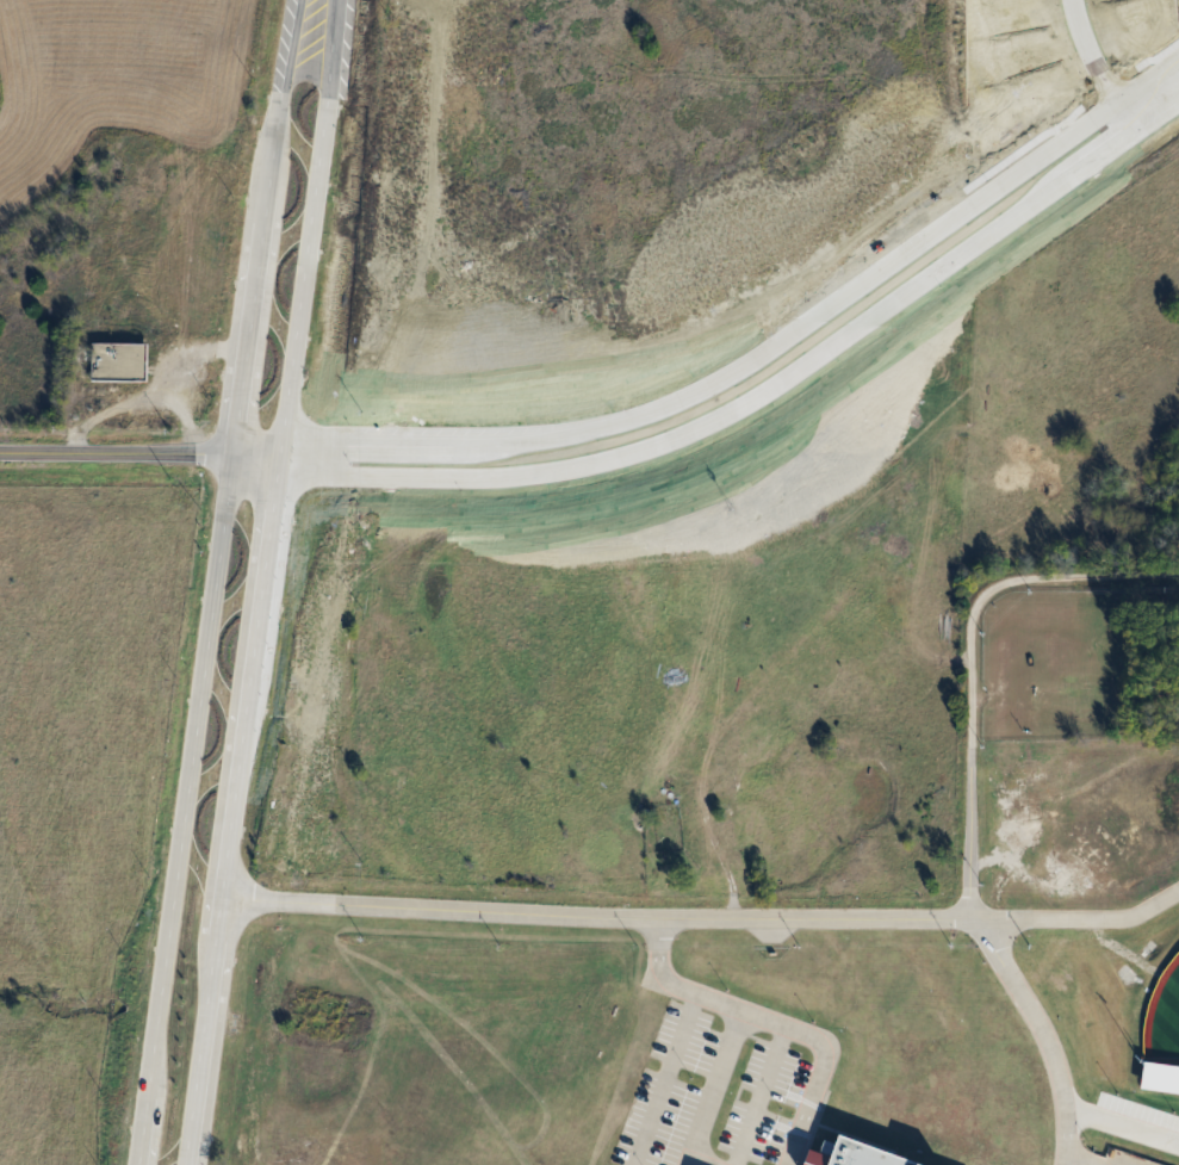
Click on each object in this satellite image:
road: (325, 48)
road: (284, 52)
road: (1091, 68)
road: (298, 275)
road: (786, 335)
building: (119, 361)
road: (786, 374)
road: (137, 453)
road: (303, 456)
road: (203, 634)
road: (972, 652)
road: (229, 810)
building: (665, 812)
road: (594, 916)
road: (1078, 923)
road: (674, 981)
road: (1043, 1031)
road: (817, 1062)
road: (663, 1078)
road: (712, 1085)
road: (1122, 1124)
building: (856, 1153)
road: (689, 1163)

